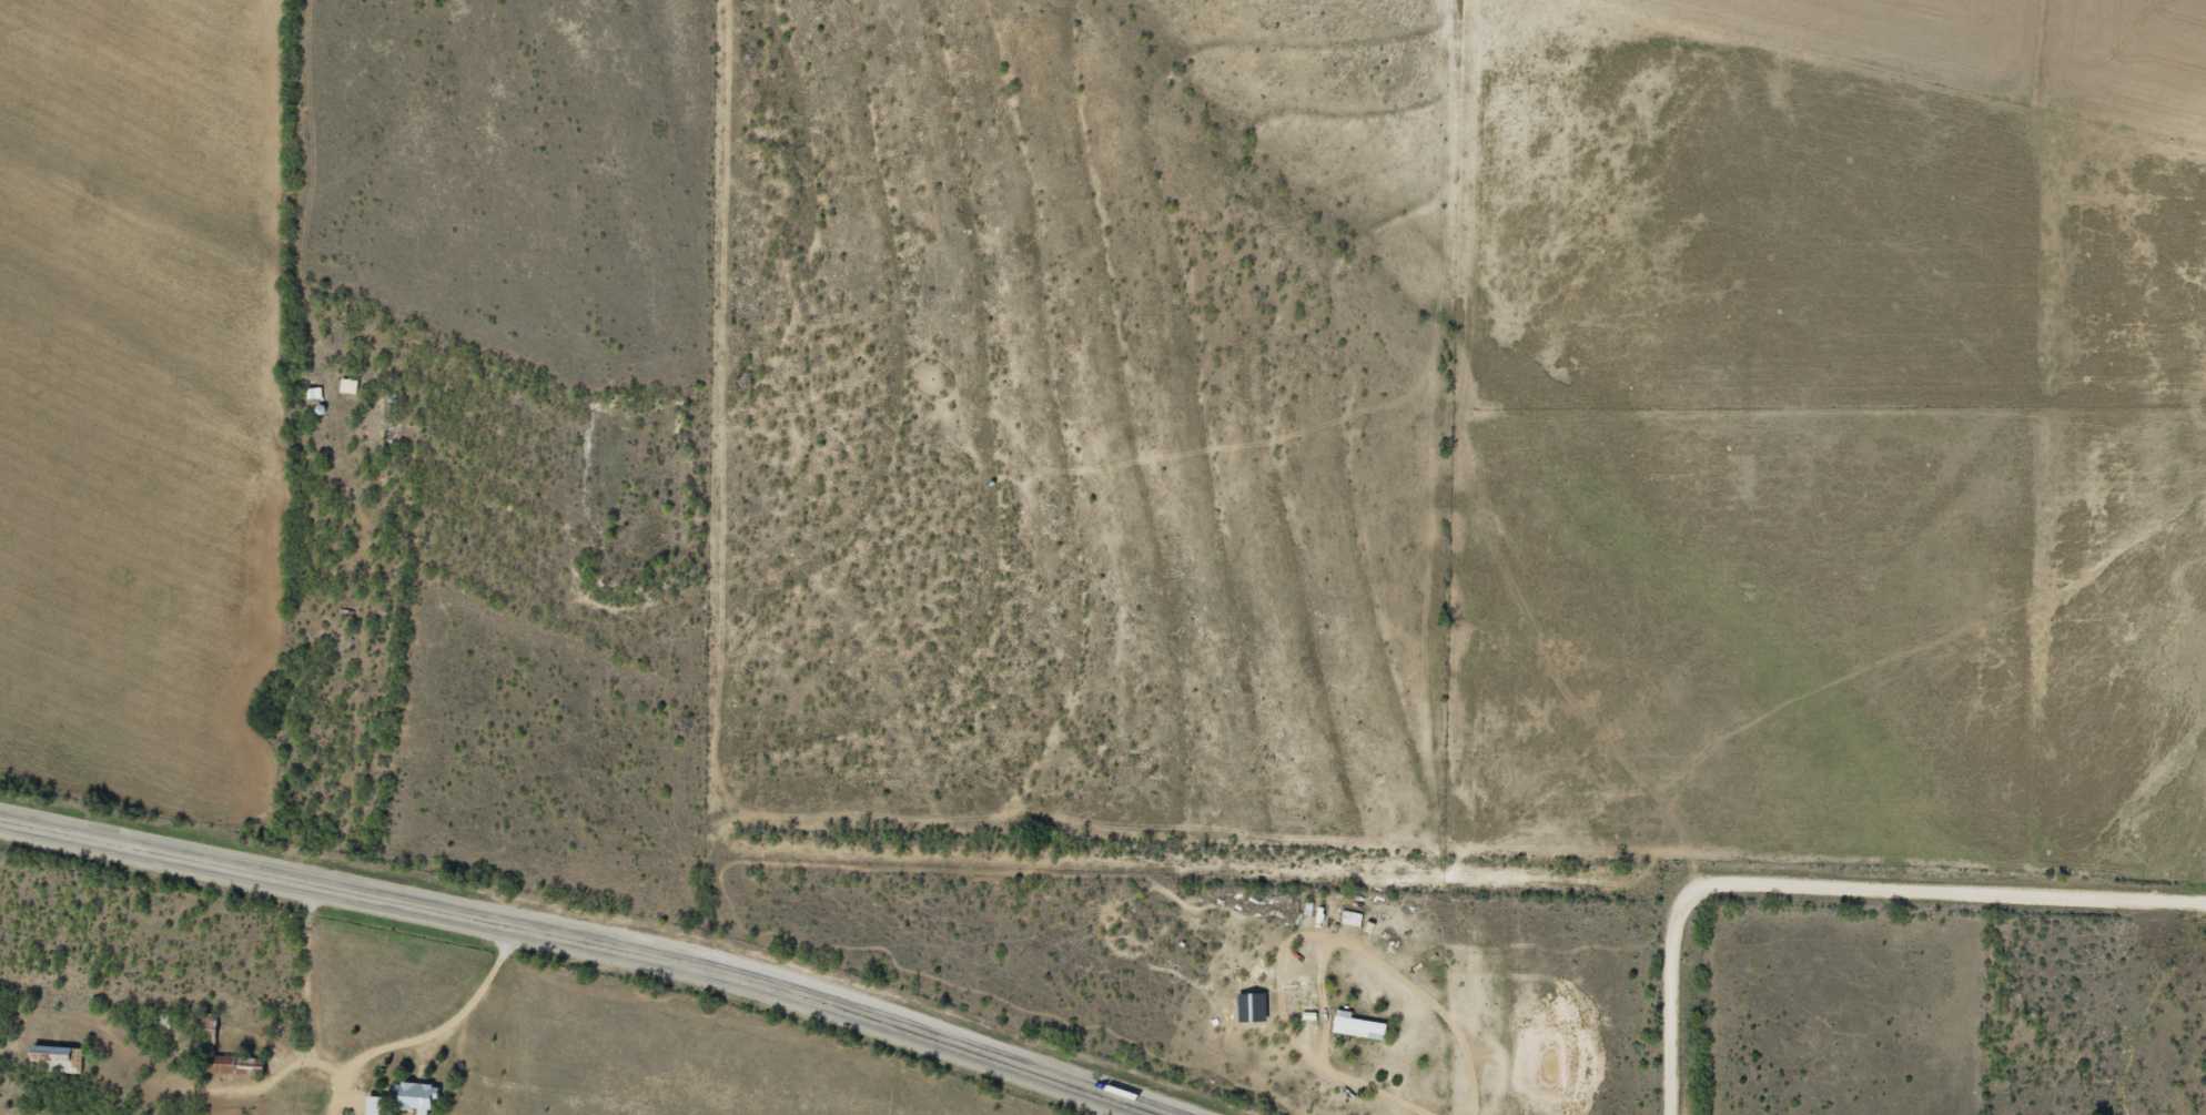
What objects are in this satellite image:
building: (351, 385)
road: (1838, 884)
road: (586, 947)
building: (1362, 1024)
road: (366, 1046)
building: (58, 1058)
building: (247, 1065)
building: (418, 1095)
building: (377, 1105)

